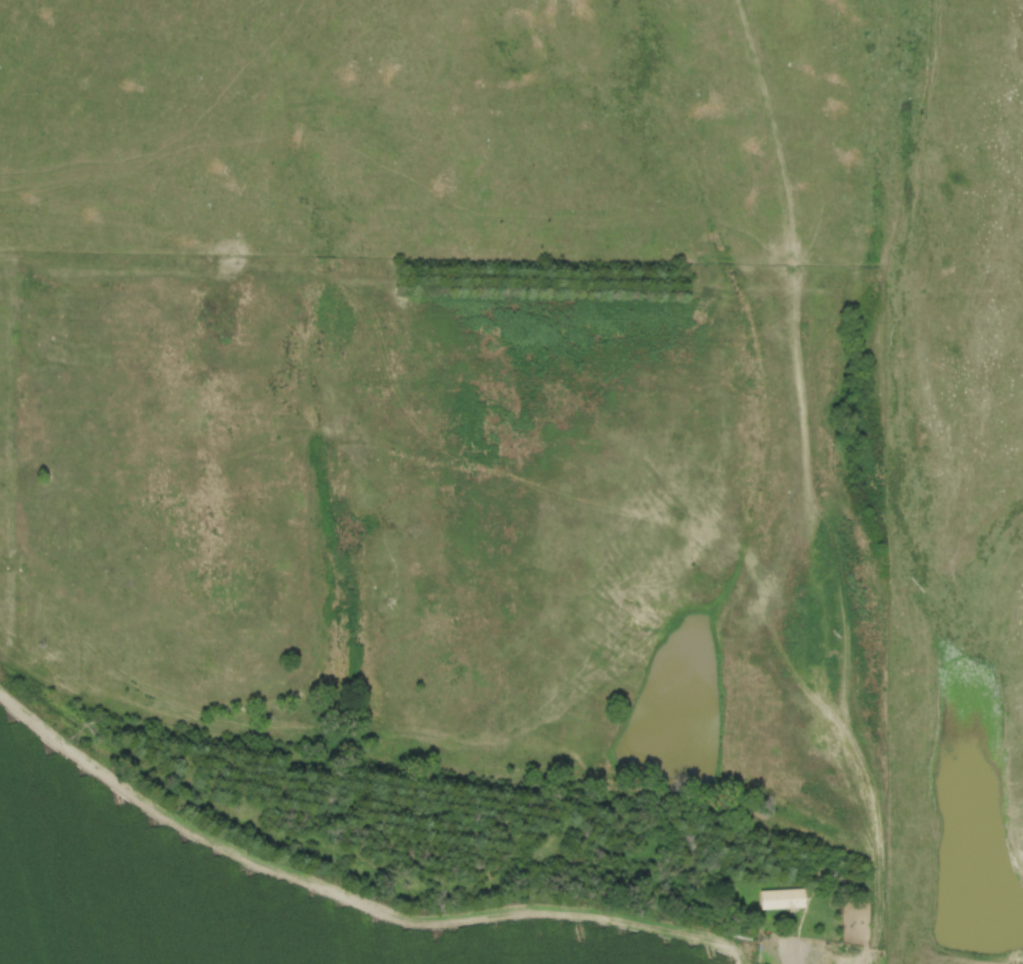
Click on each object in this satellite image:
building: (782, 899)
road: (795, 956)

